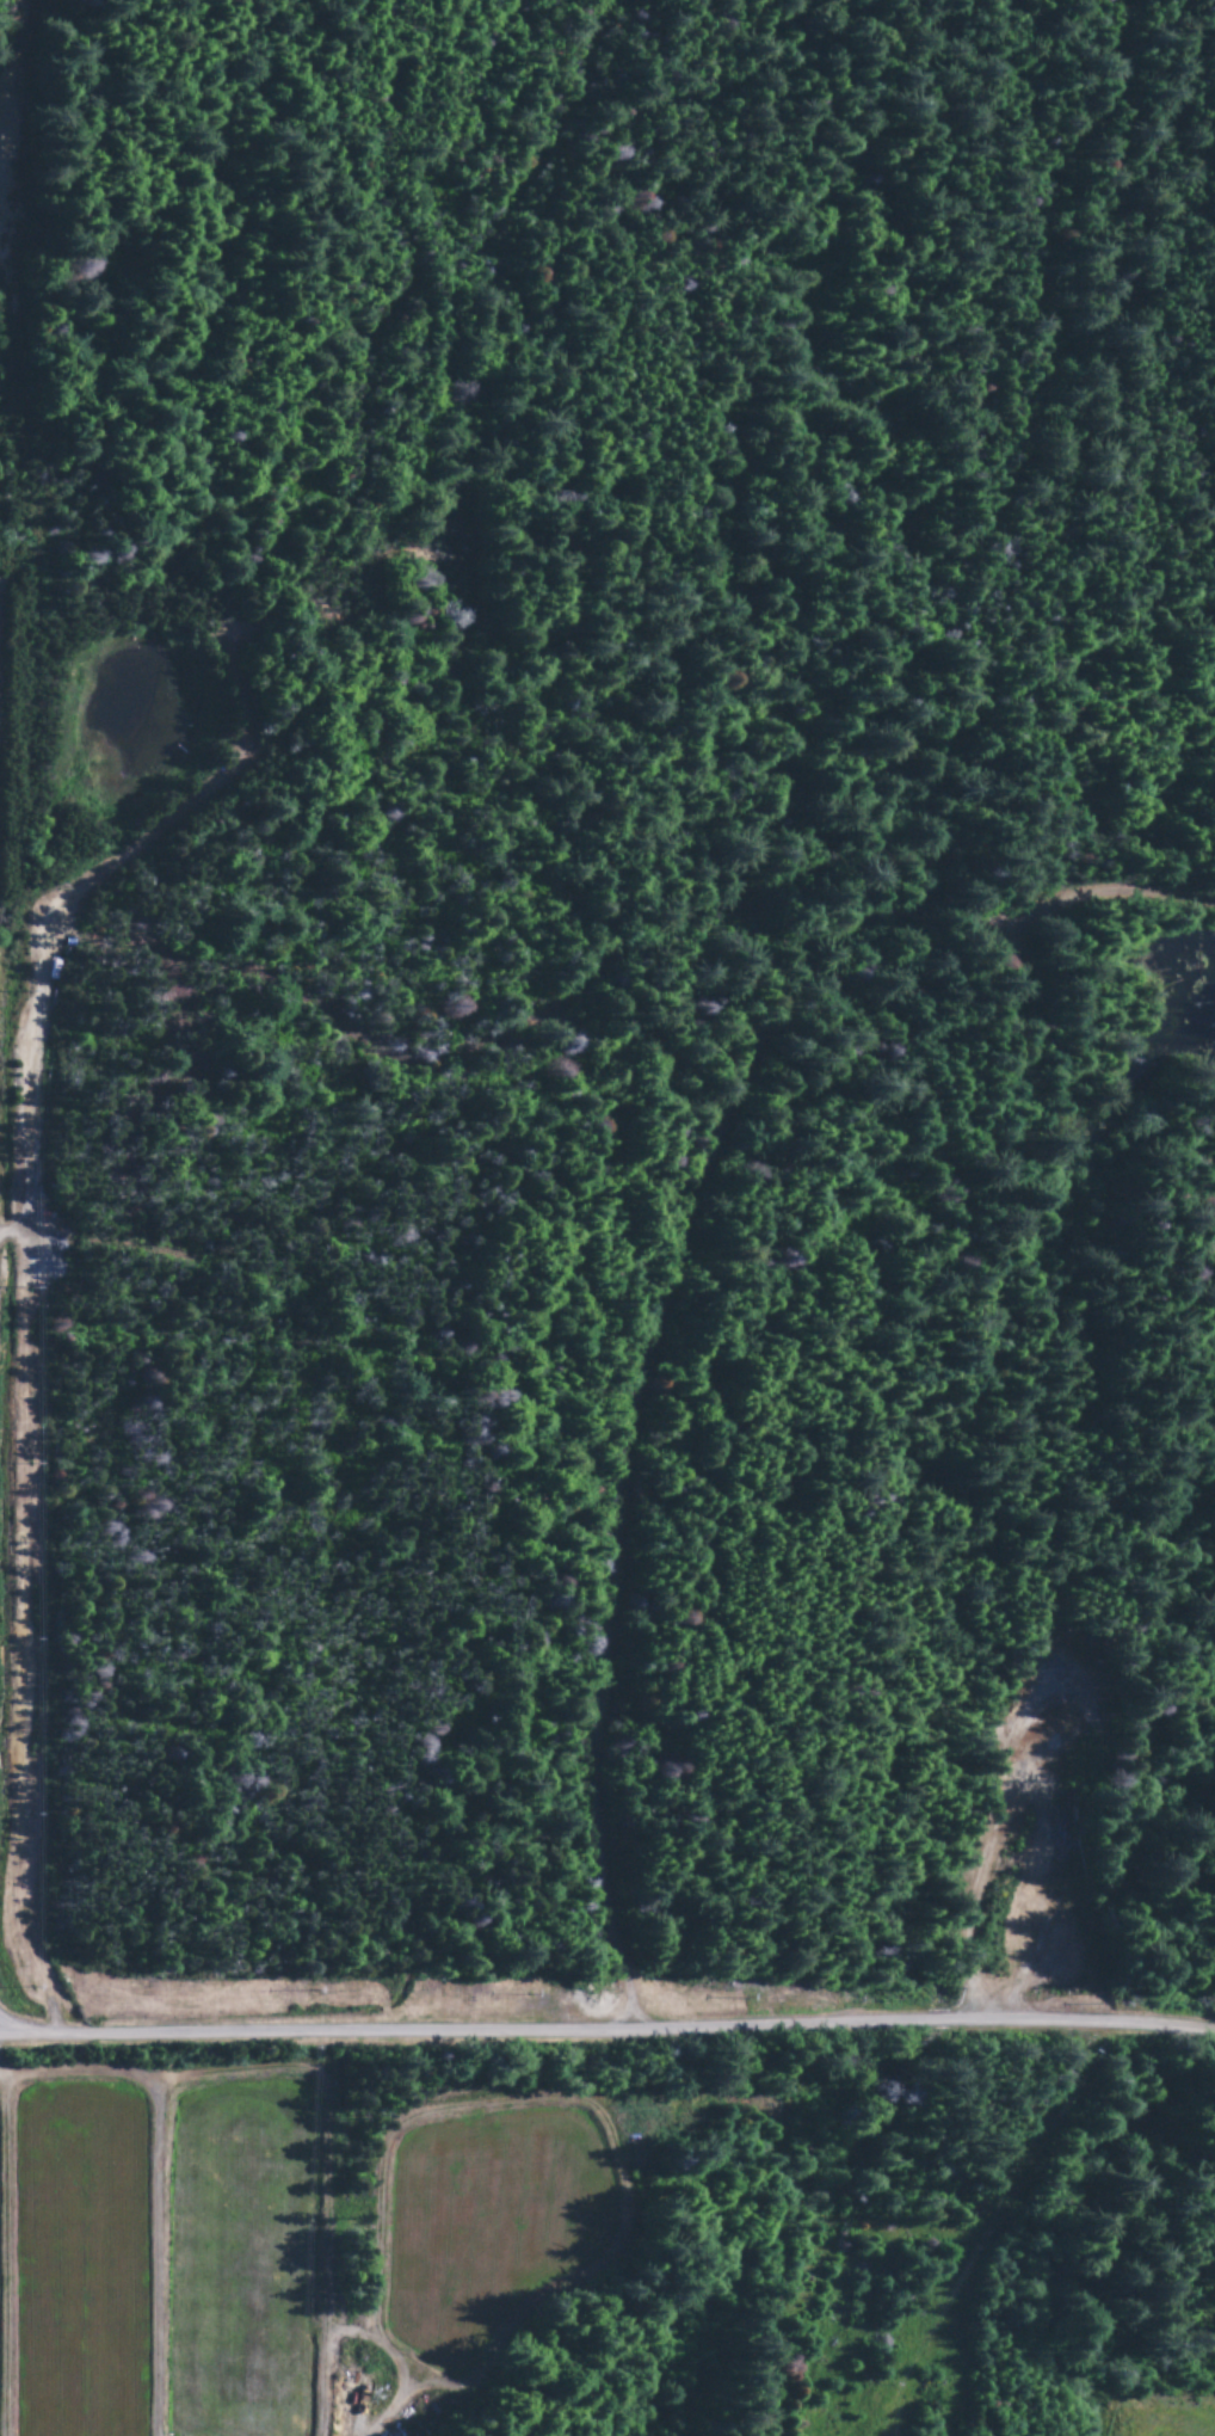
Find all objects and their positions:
crop: (491, 2223)
crop: (238, 2260)
crop: (78, 2264)

